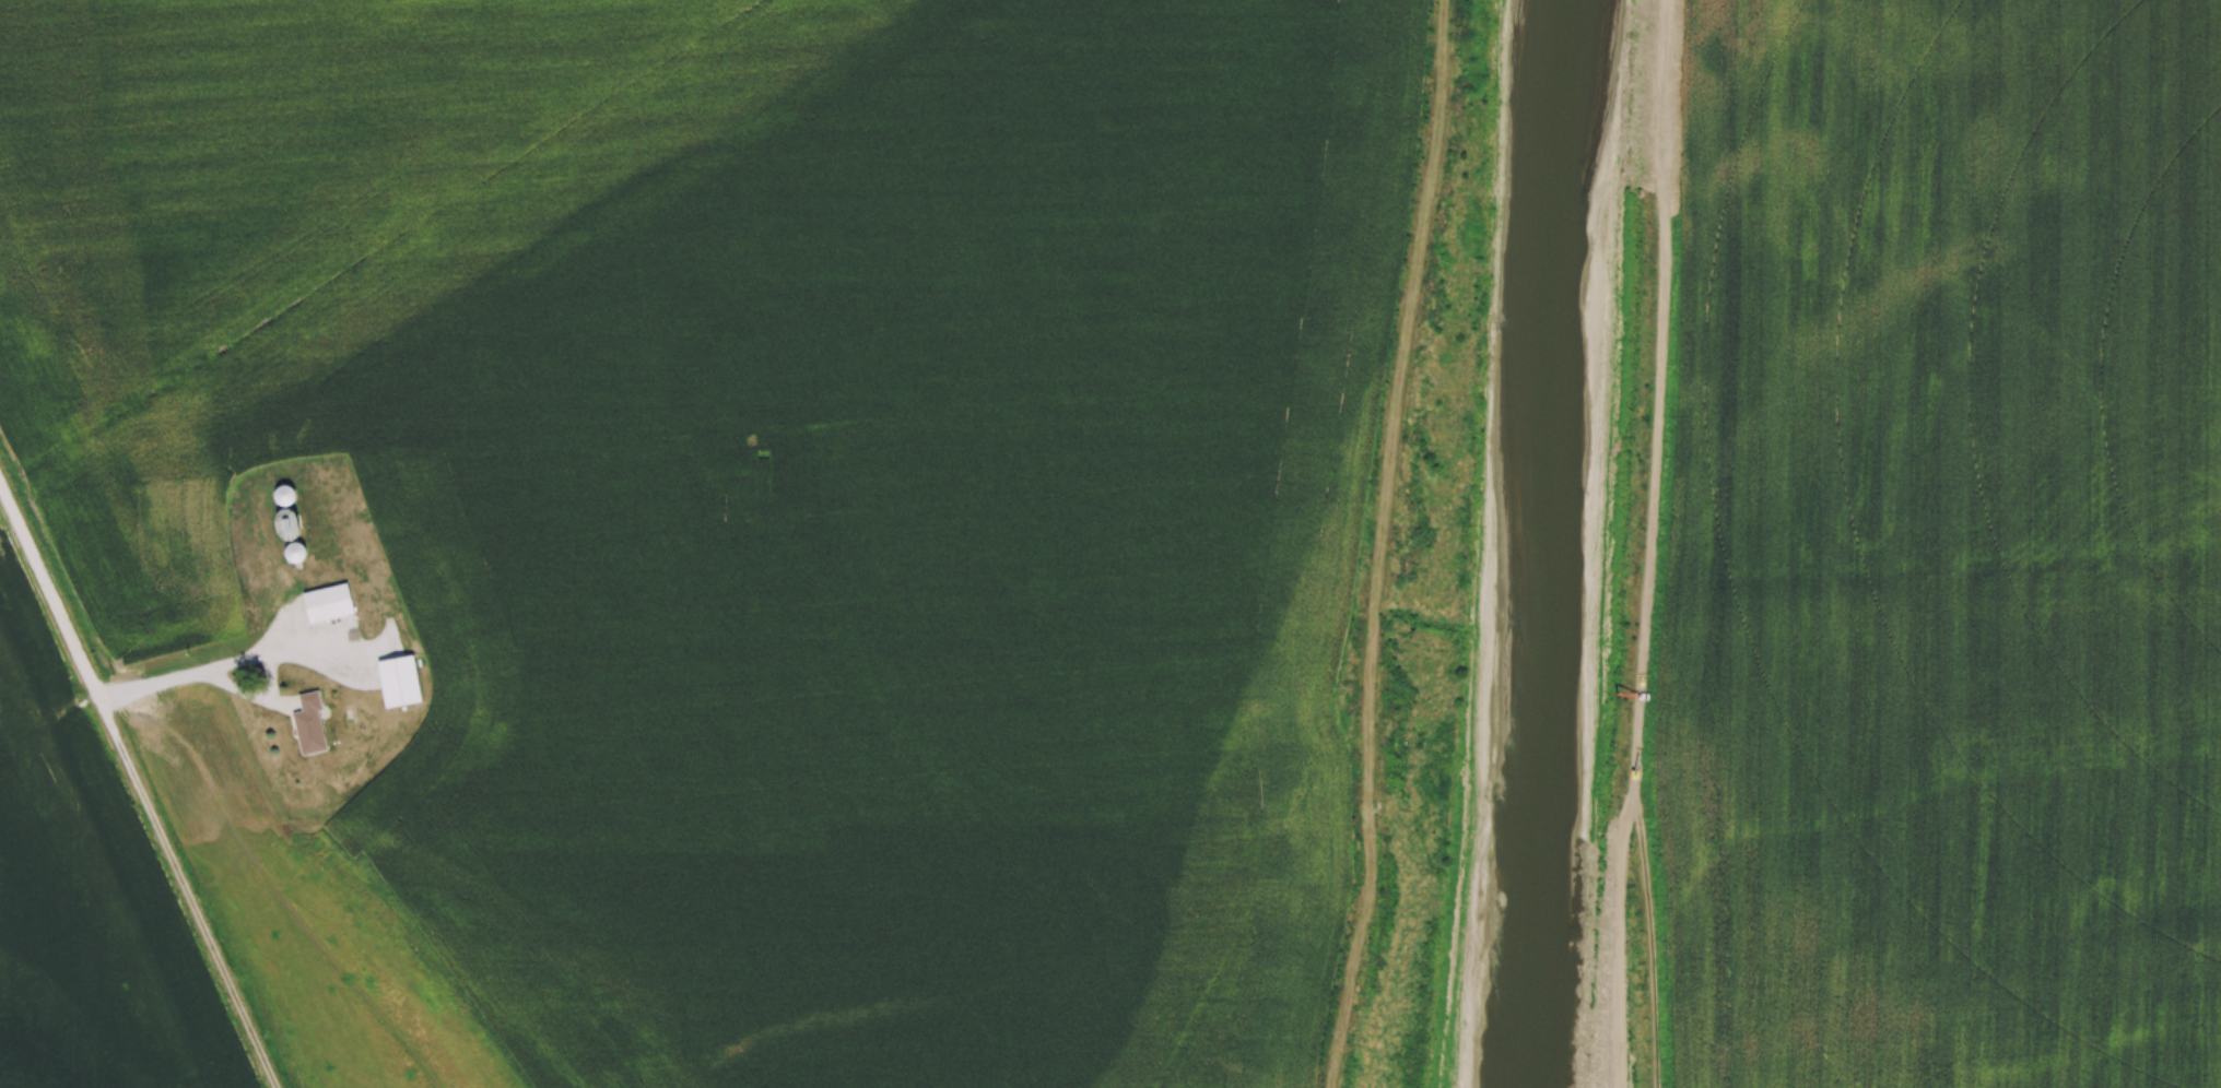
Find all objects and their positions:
river: (1552, 544)
road: (231, 662)
road: (271, 673)
road: (243, 686)
road: (138, 788)

